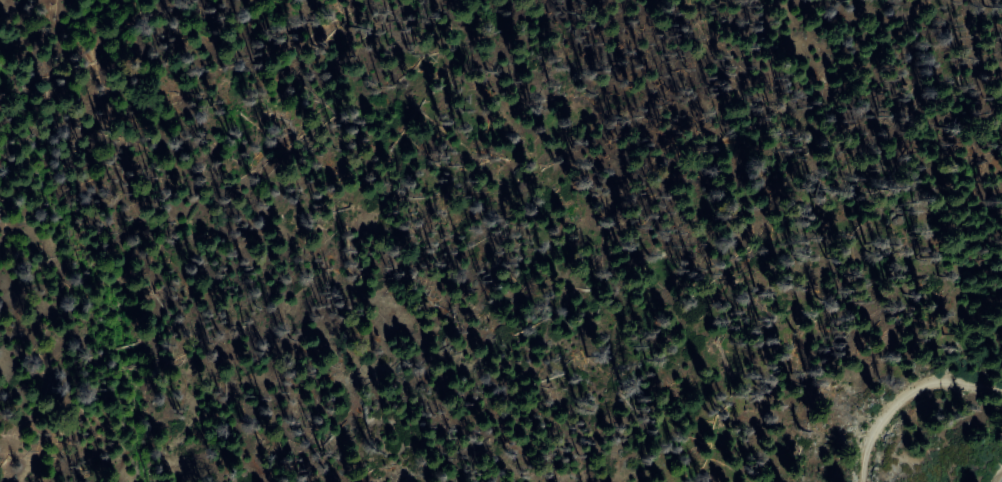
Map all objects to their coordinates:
building: (761, 236)
road: (908, 397)

